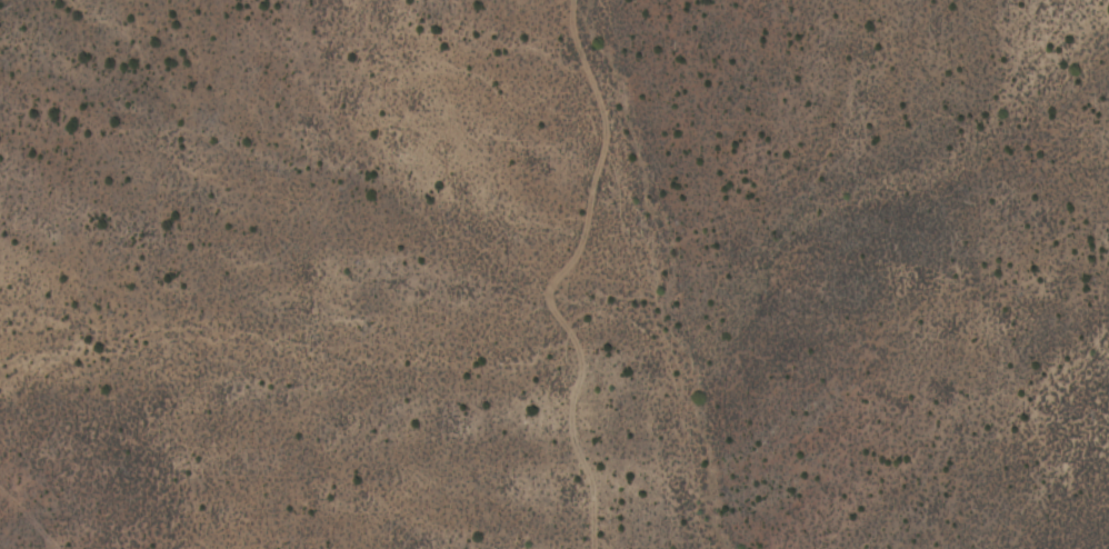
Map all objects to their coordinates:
road: (573, 276)
road: (33, 518)

